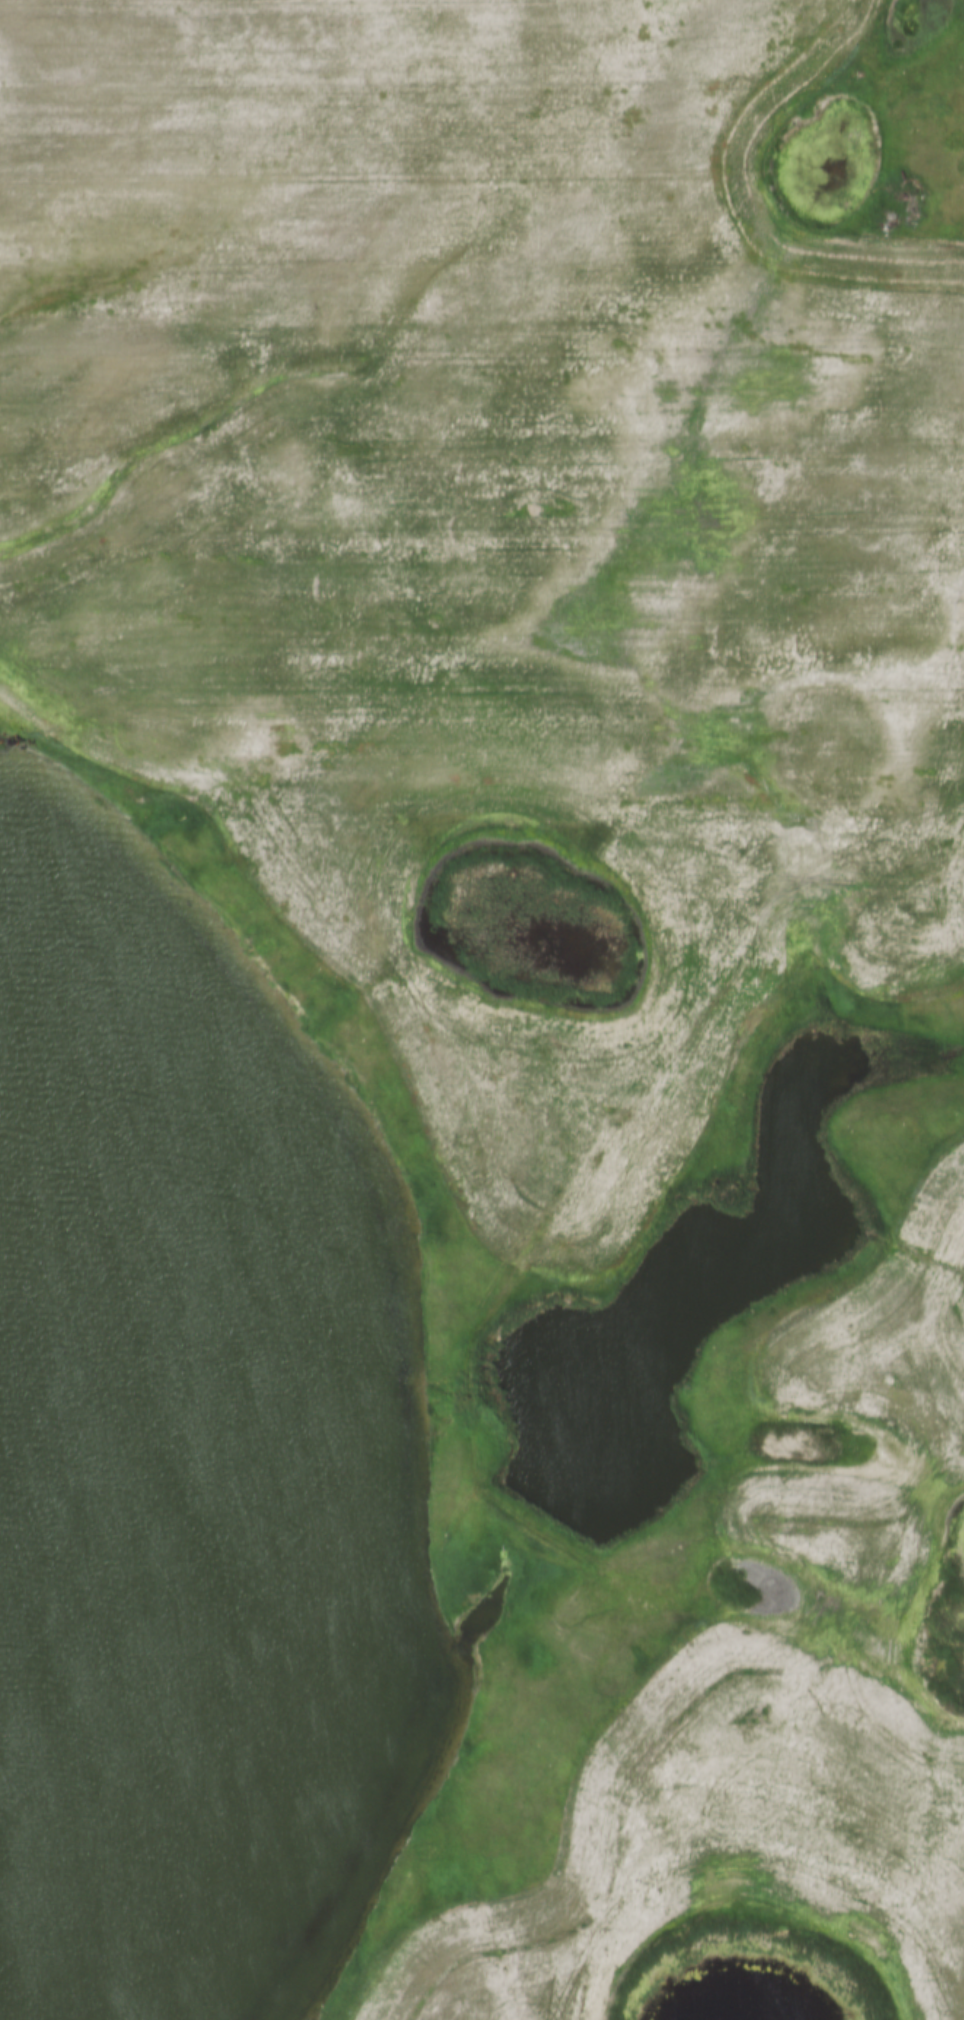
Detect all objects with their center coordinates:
road: (476, 1428)

